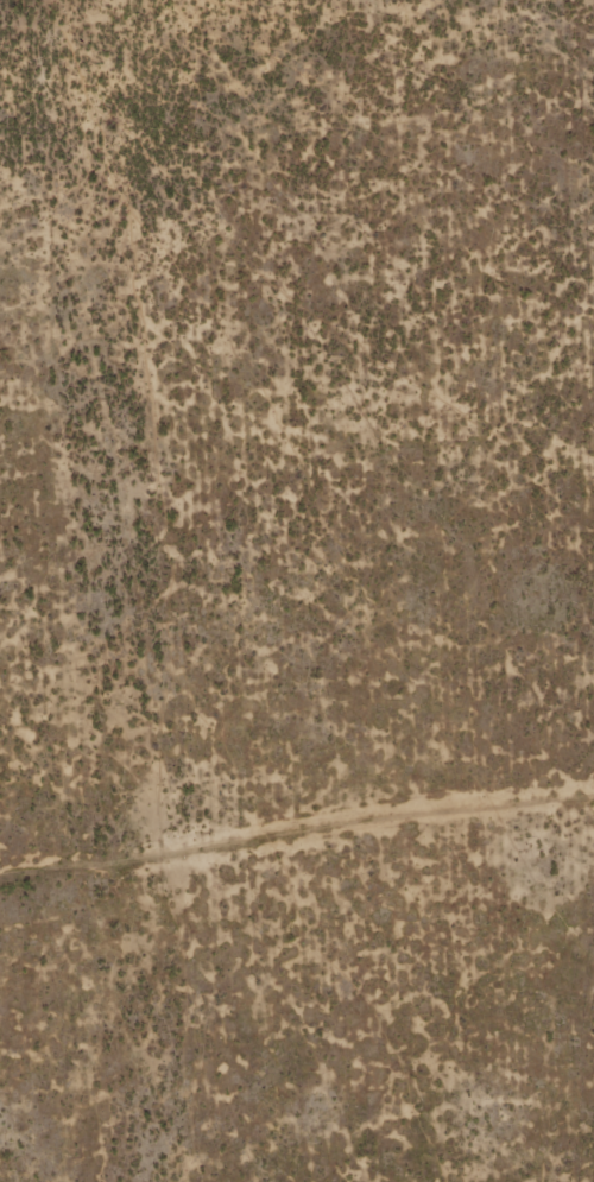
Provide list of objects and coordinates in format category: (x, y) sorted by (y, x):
road: (297, 862)

